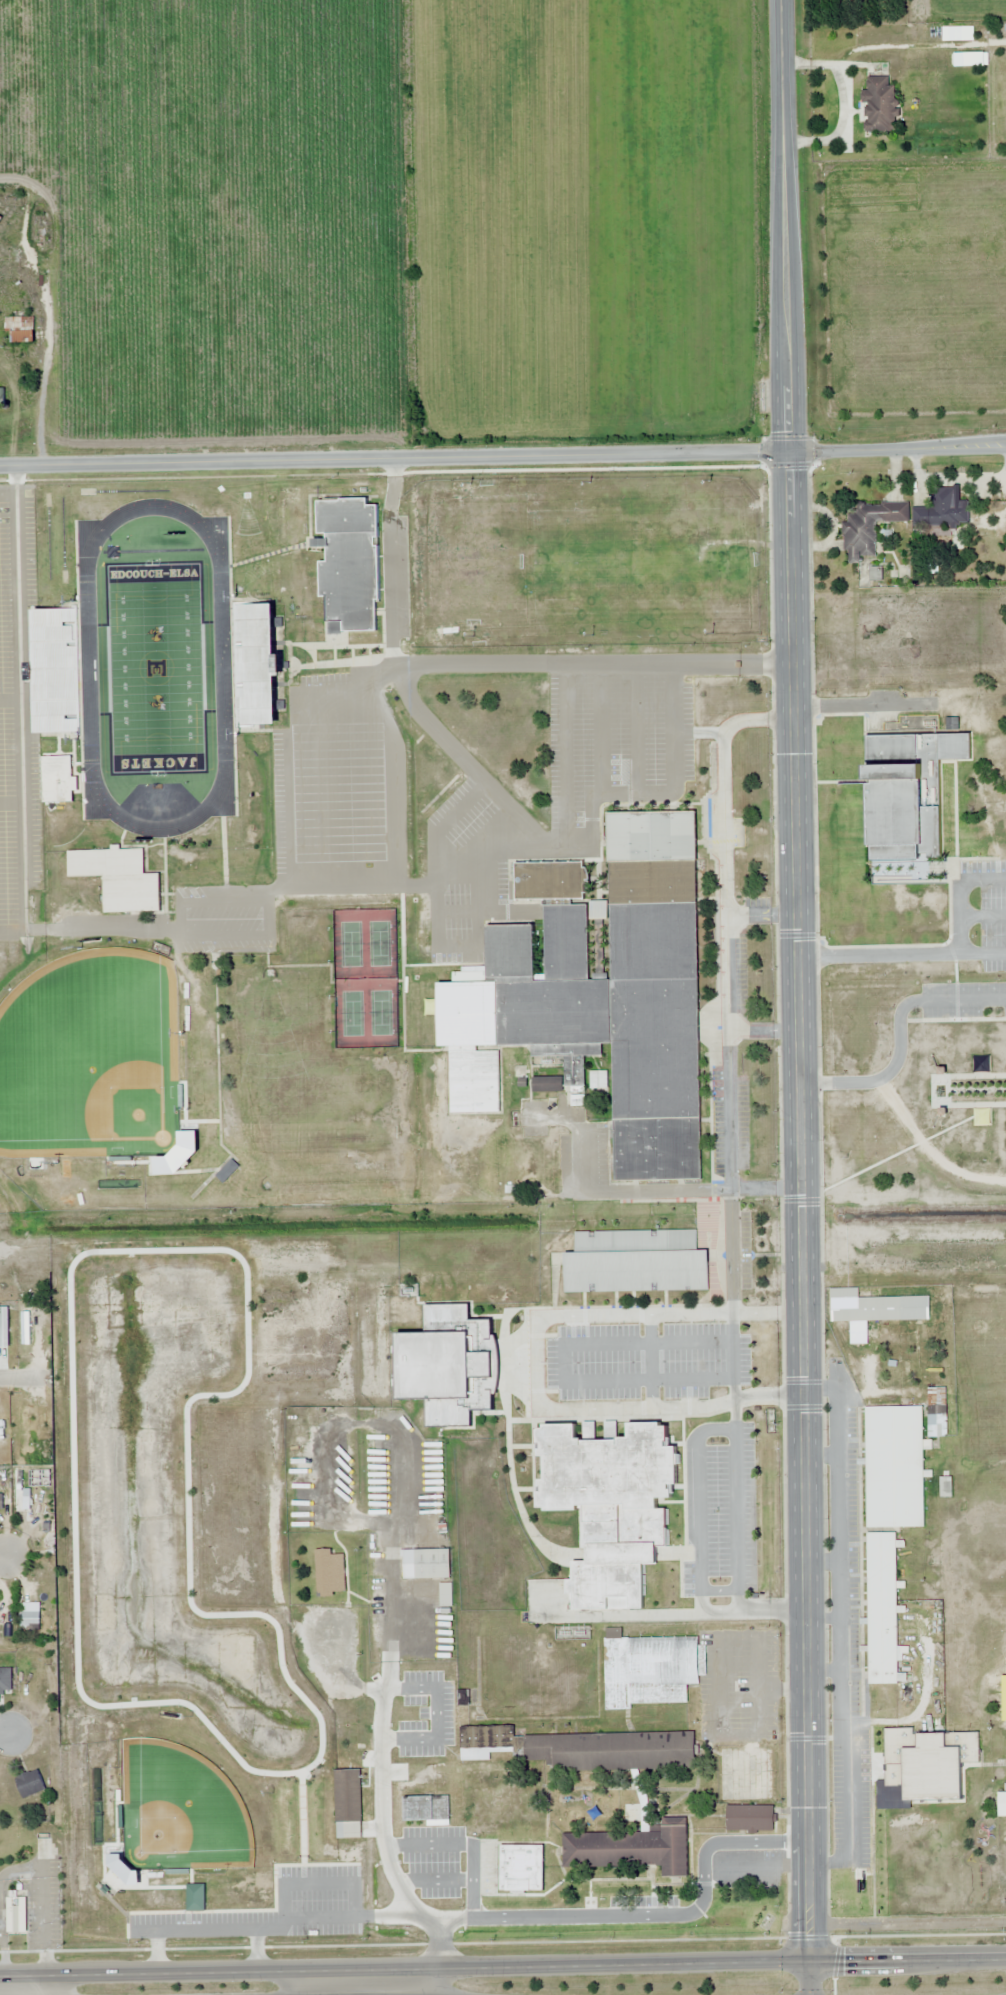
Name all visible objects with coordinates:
building: (879, 104)
building: (1, 219)
building: (1, 396)
road: (502, 456)
road: (7, 491)
building: (946, 511)
building: (868, 525)
building: (348, 563)
building: (255, 664)
road: (574, 664)
track: (87, 667)
park: (155, 667)
building: (55, 670)
road: (400, 680)
road: (19, 698)
stadium: (163, 698)
road: (10, 700)
road: (637, 728)
road: (601, 729)
road: (699, 732)
road: (566, 755)
road: (394, 782)
building: (910, 794)
road: (11, 803)
road: (445, 822)
road: (558, 846)
building: (118, 879)
road: (458, 911)
road: (763, 916)
road: (89, 928)
road: (178, 932)
park: (350, 943)
park: (379, 943)
road: (468, 945)
road: (727, 985)
building: (597, 993)
road: (803, 997)
park: (380, 1012)
park: (351, 1013)
road: (766, 1030)
park: (85, 1056)
building: (524, 1166)
building: (227, 1171)
building: (195, 1175)
road: (639, 1190)
building: (636, 1261)
railway: (503, 1274)
building: (875, 1307)
road: (733, 1355)
road: (651, 1360)
road: (564, 1362)
road: (537, 1364)
road: (19, 1377)
building: (936, 1413)
building: (31, 1430)
building: (894, 1467)
building: (1, 1503)
road: (698, 1503)
road: (736, 1504)
building: (604, 1518)
road: (3, 1555)
building: (426, 1564)
park: (193, 1566)
building: (329, 1573)
road: (719, 1589)
building: (44, 1593)
building: (445, 1595)
road: (669, 1612)
building: (883, 1614)
building: (649, 1668)
building: (5, 1679)
building: (1004, 1697)
road: (4, 1734)
building: (929, 1761)
building: (553, 1763)
building: (30, 1783)
building: (348, 1803)
building: (1001, 1803)
building: (425, 1807)
building: (749, 1817)
building: (630, 1846)
building: (43, 1848)
building: (528, 1870)
building: (195, 1897)
building: (17, 1916)
road: (758, 1963)
traffic signals: (814, 1963)
road: (278, 1968)
road: (297, 1981)
road: (25, 1989)
road: (57, 1992)

